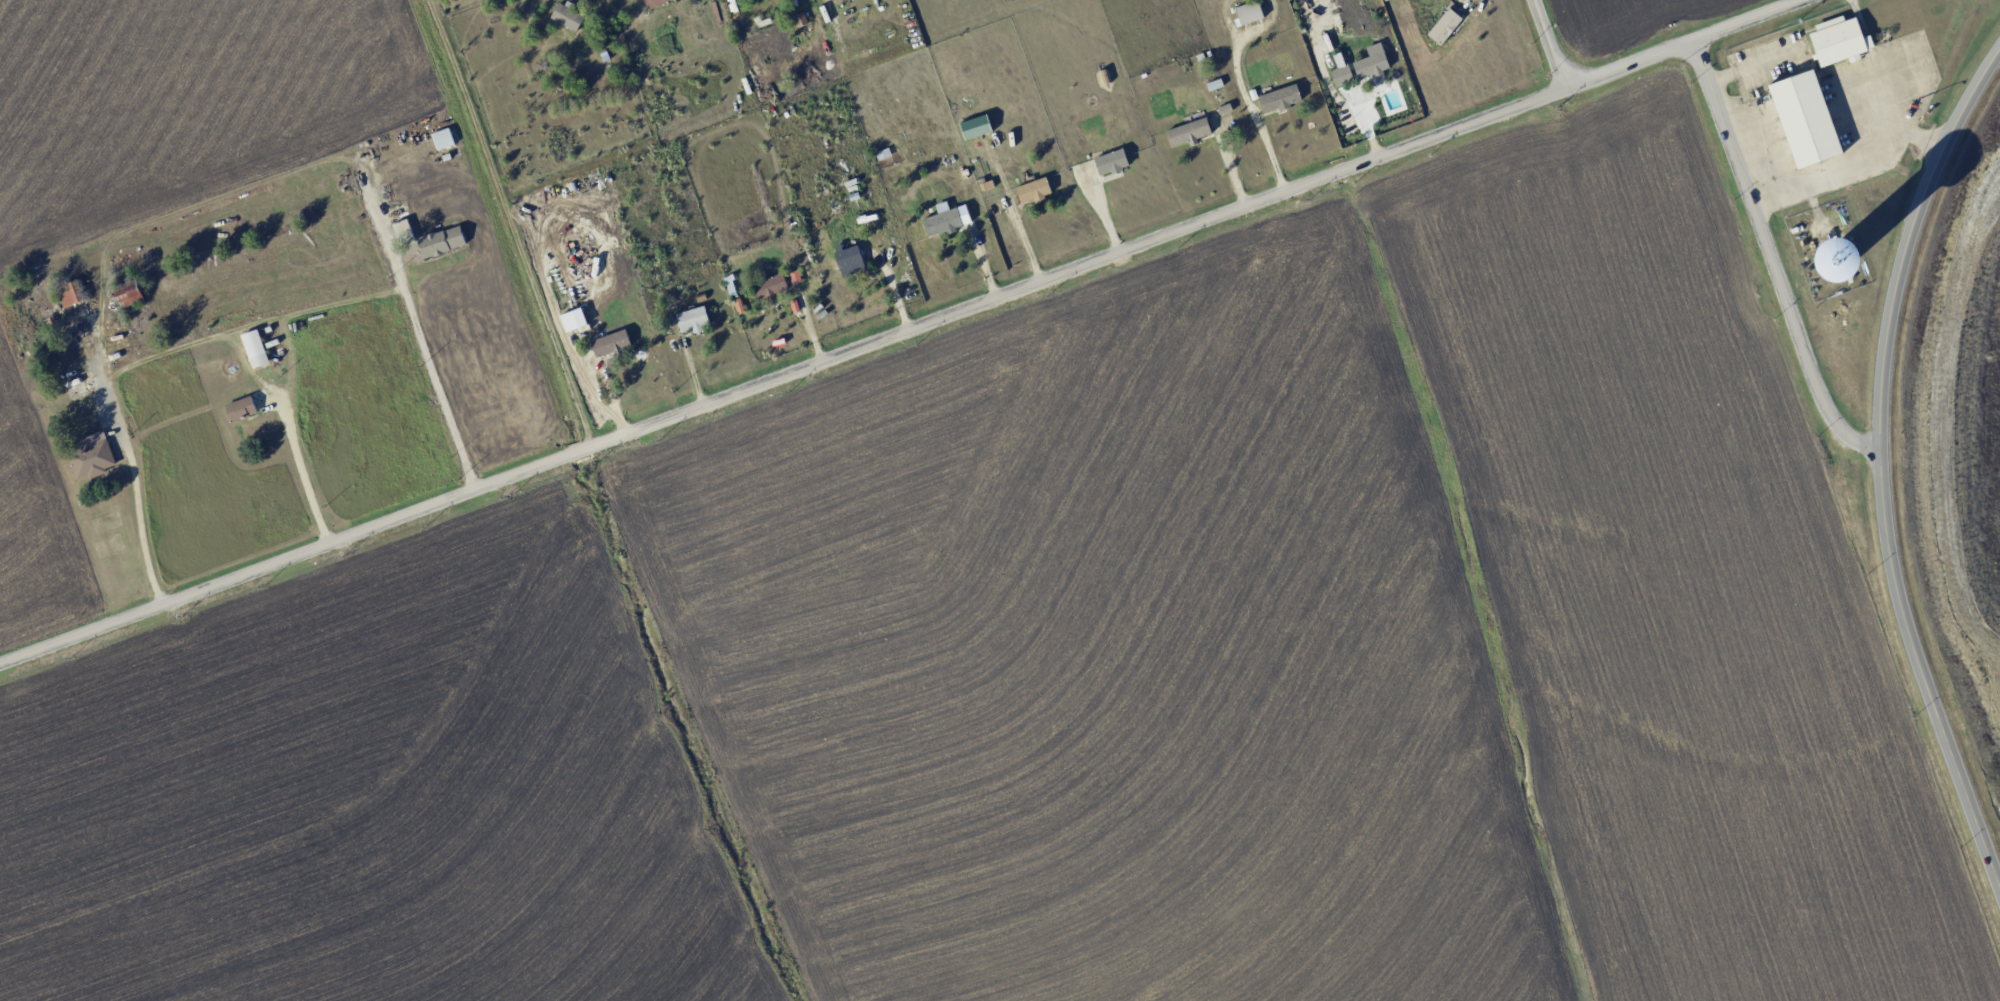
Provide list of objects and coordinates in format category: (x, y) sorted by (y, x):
building: (838, 1)
building: (655, 3)
building: (1249, 12)
building: (567, 16)
building: (800, 19)
road: (1747, 20)
building: (1444, 26)
road: (1865, 36)
building: (1836, 40)
road: (1548, 42)
building: (1371, 62)
road: (1627, 63)
road: (1752, 65)
building: (1339, 70)
building: (1279, 98)
road: (1833, 100)
road: (1892, 104)
building: (1803, 119)
building: (975, 126)
building: (1187, 132)
building: (442, 138)
building: (1110, 162)
road: (1847, 163)
building: (1033, 190)
building: (946, 219)
road: (380, 222)
building: (402, 228)
building: (440, 241)
road: (1772, 256)
building: (849, 260)
building: (1835, 260)
building: (794, 276)
building: (768, 286)
building: (129, 293)
building: (69, 296)
building: (691, 319)
building: (610, 343)
building: (254, 348)
road: (782, 375)
road: (434, 378)
building: (240, 408)
road: (116, 410)
building: (91, 455)
road: (1878, 468)
road: (304, 477)
road: (142, 537)

